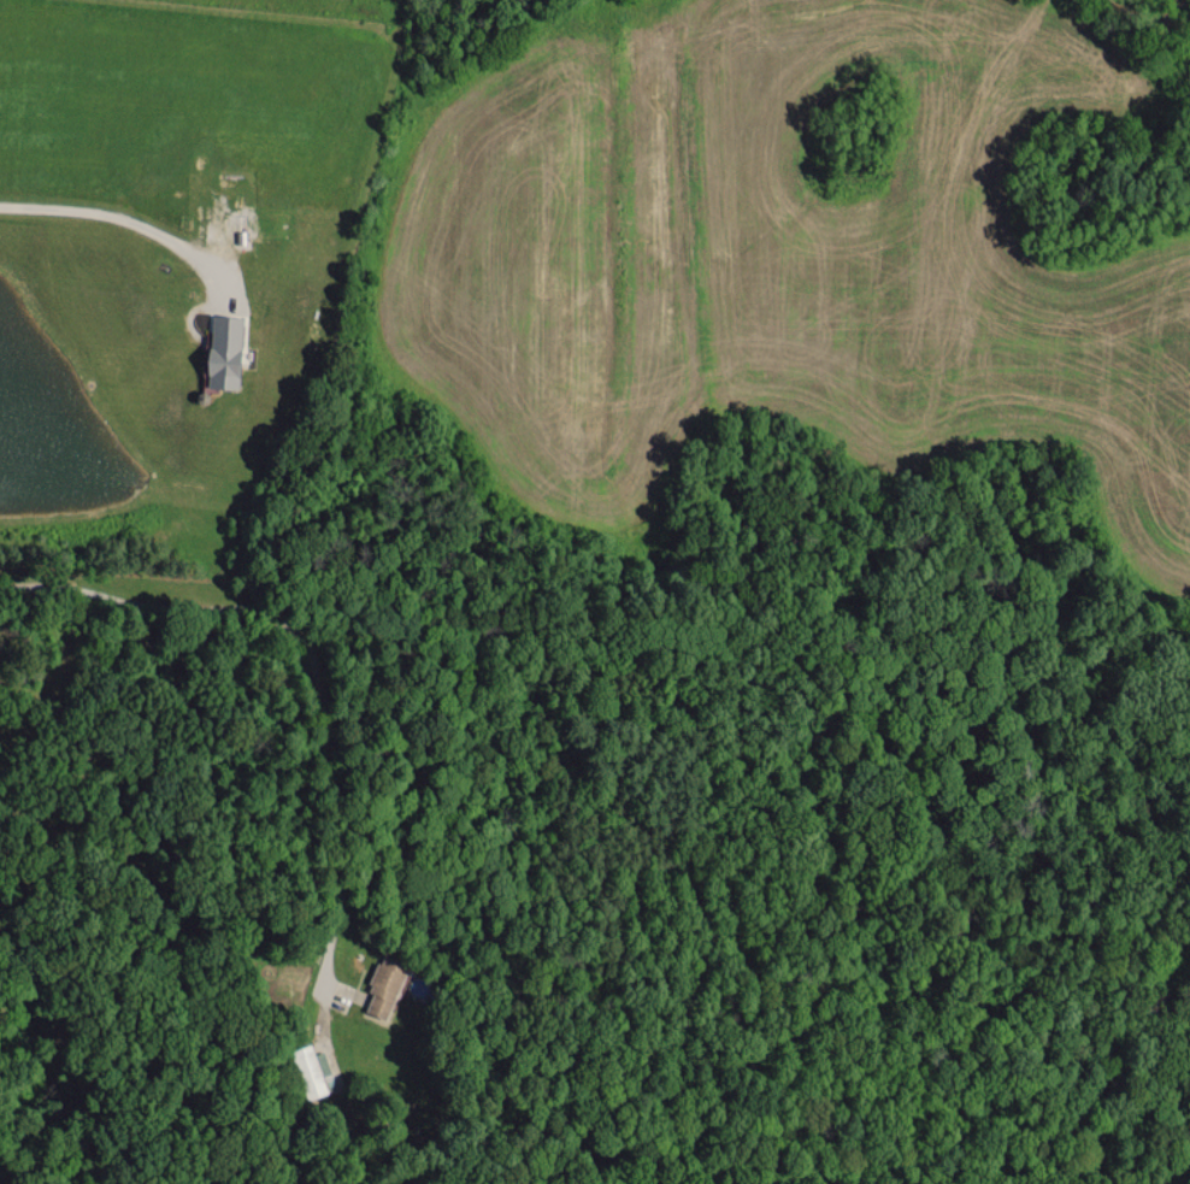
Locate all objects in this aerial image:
building: (226, 349)
road: (305, 646)
building: (384, 985)
building: (310, 1072)

